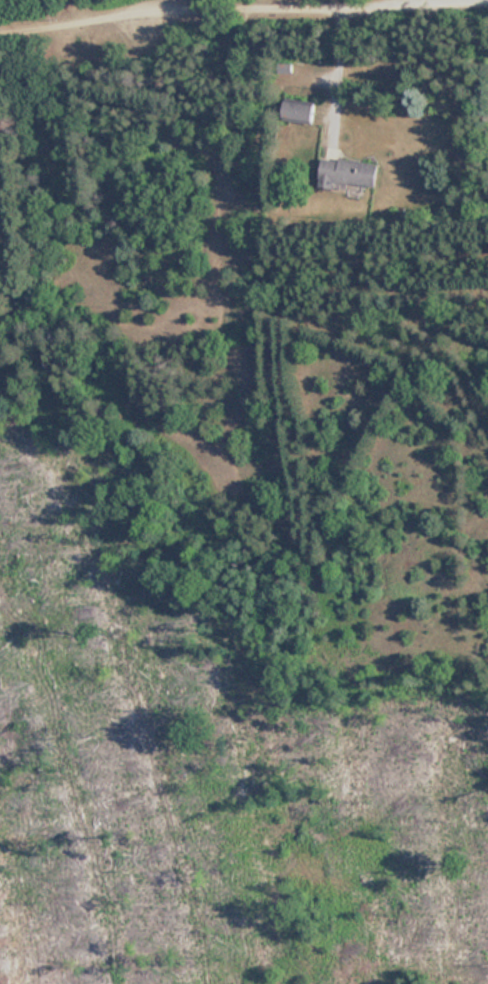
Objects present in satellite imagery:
road: (220, 16)
road: (335, 76)
building: (299, 111)
road: (49, 161)
building: (348, 172)
park: (246, 602)

